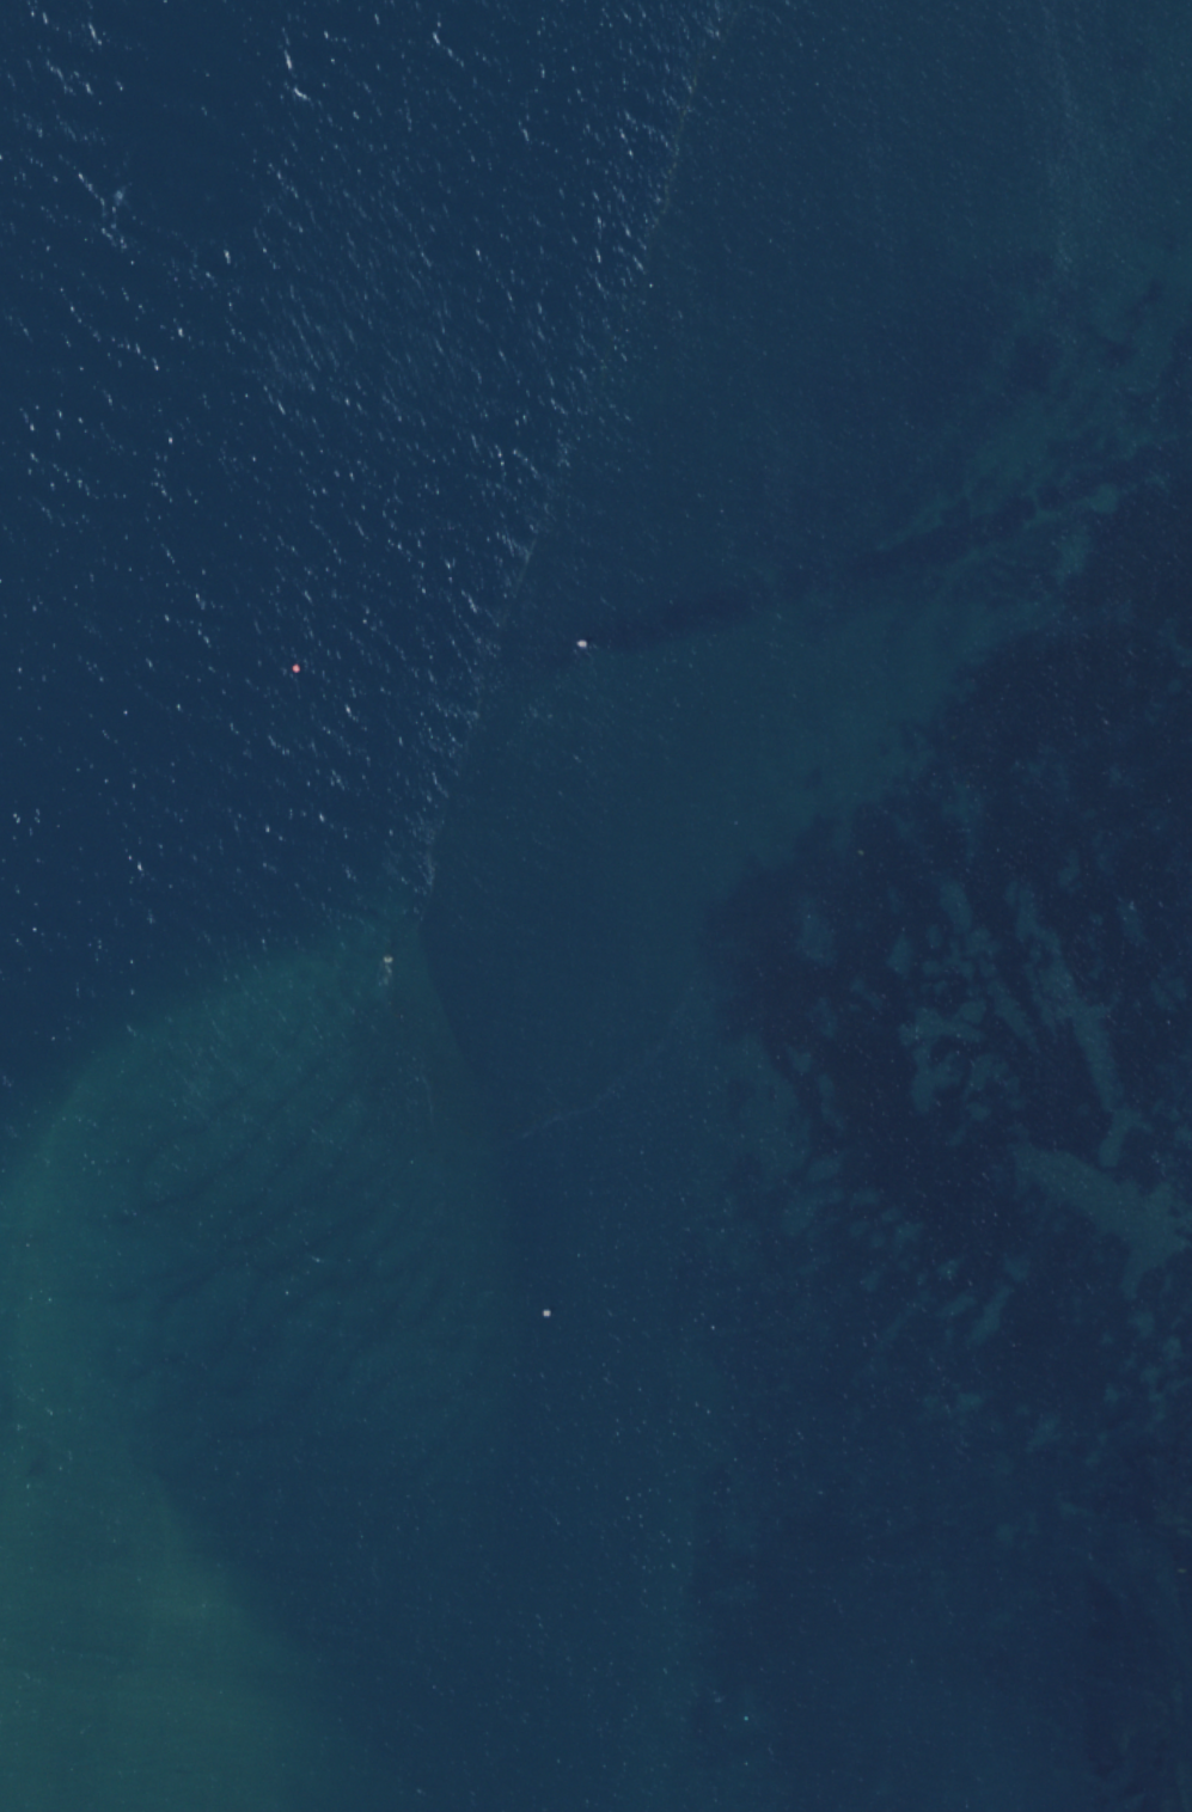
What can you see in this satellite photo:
river: (91, 99)

